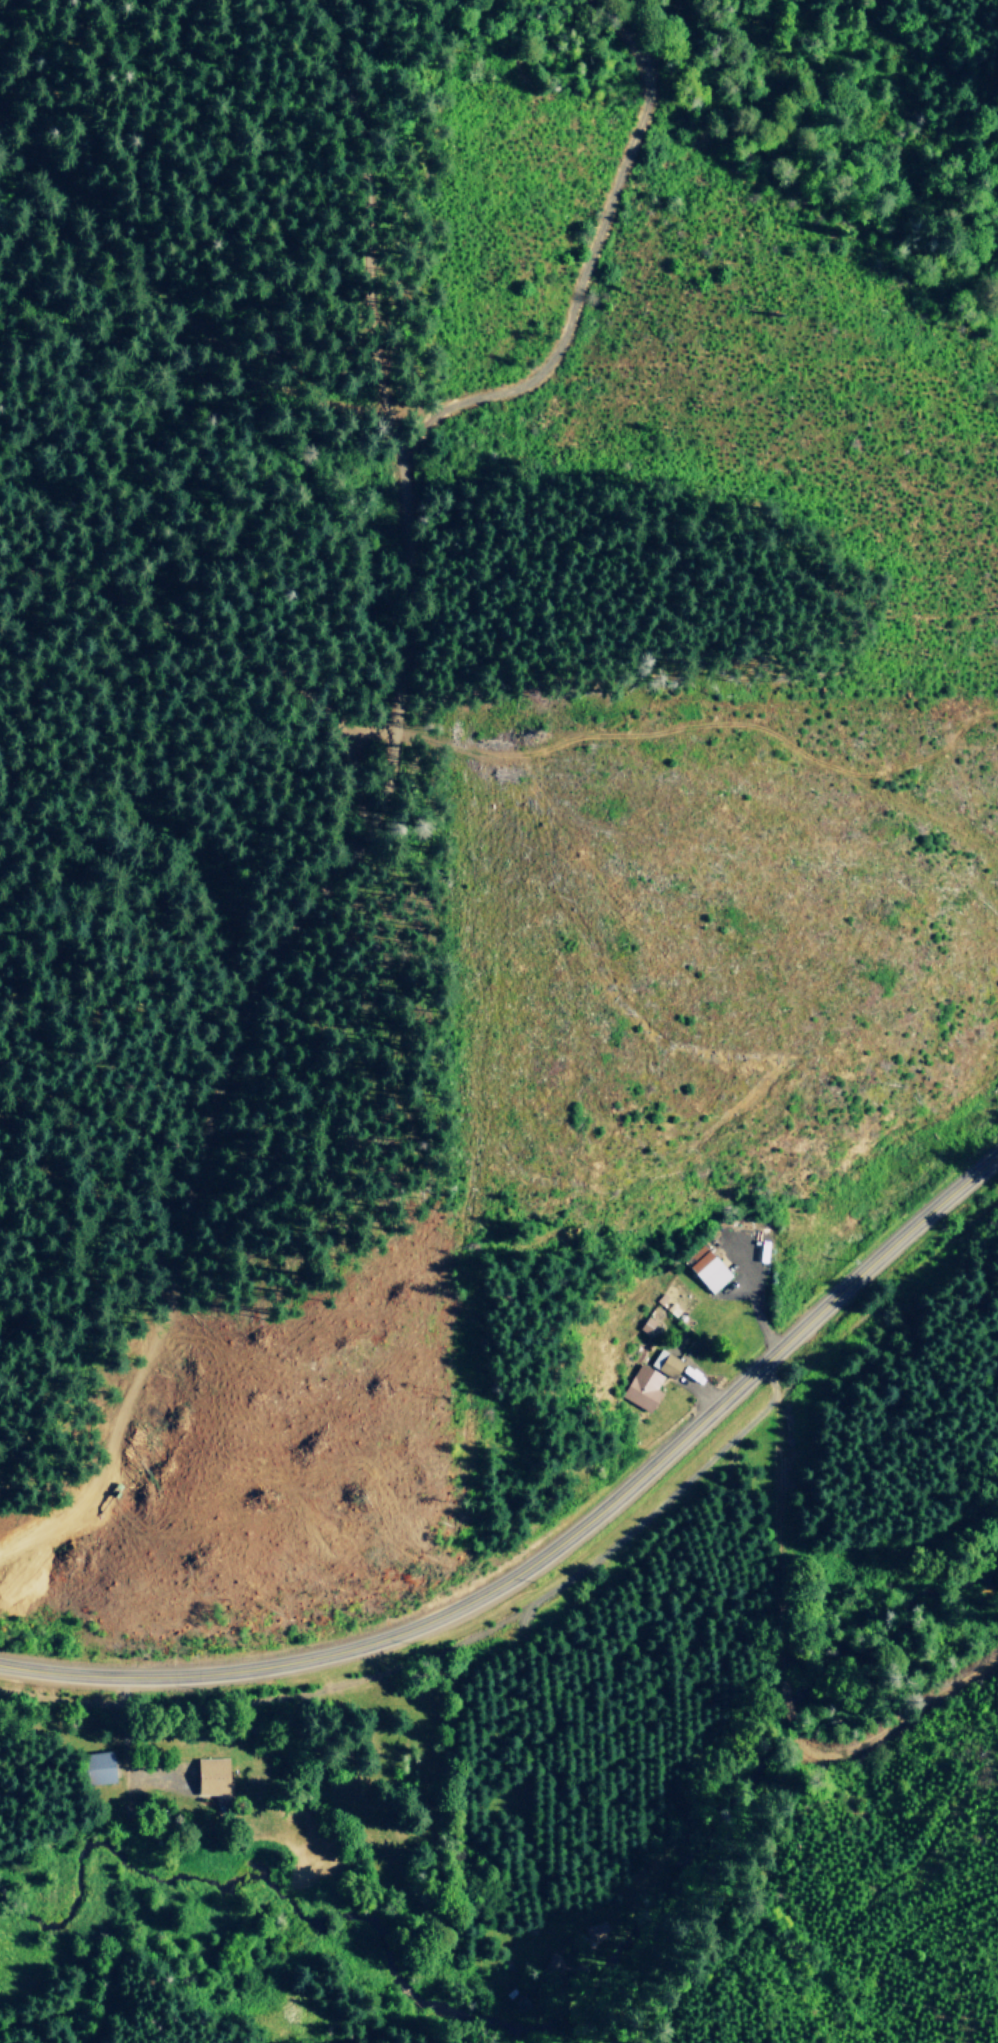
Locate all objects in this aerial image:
building: (706, 1268)
building: (666, 1363)
building: (642, 1387)
road: (556, 1542)
railway: (556, 1583)
building: (99, 1768)
building: (213, 1778)

